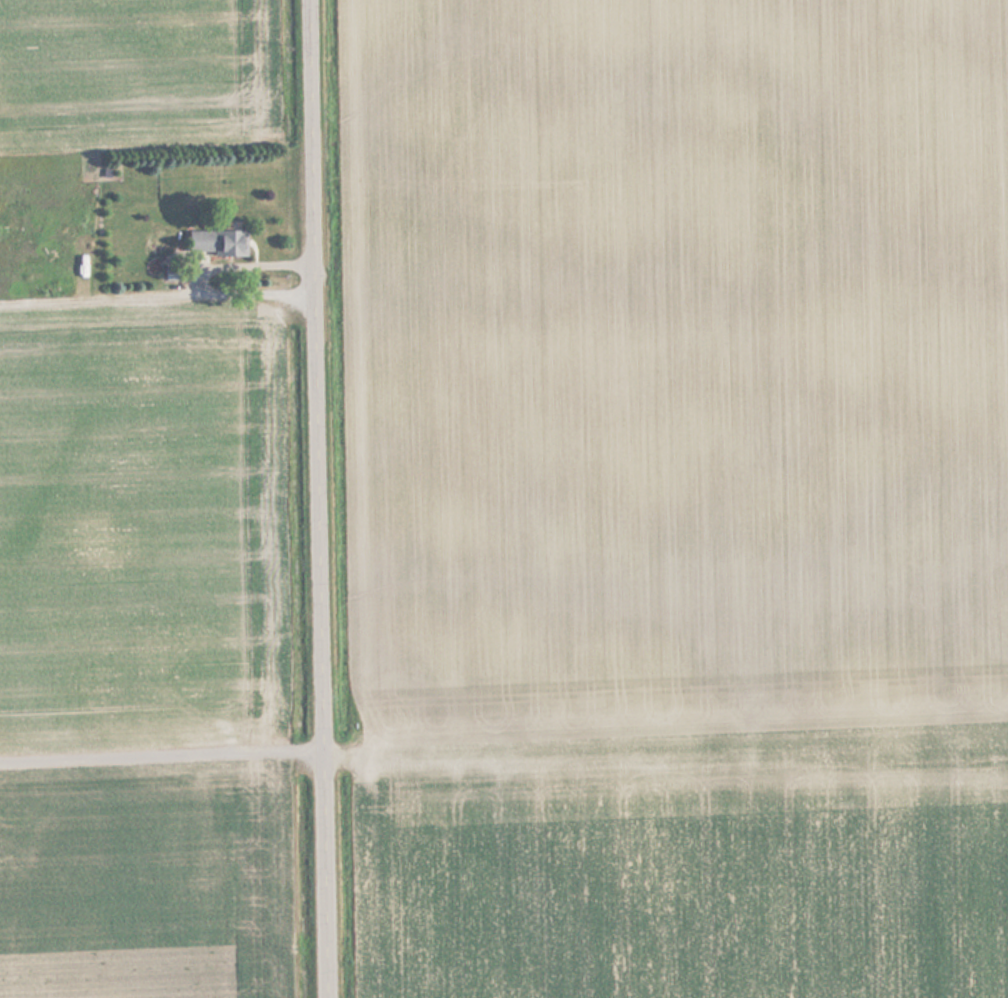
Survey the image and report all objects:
building: (220, 243)
road: (322, 498)
road: (171, 879)

